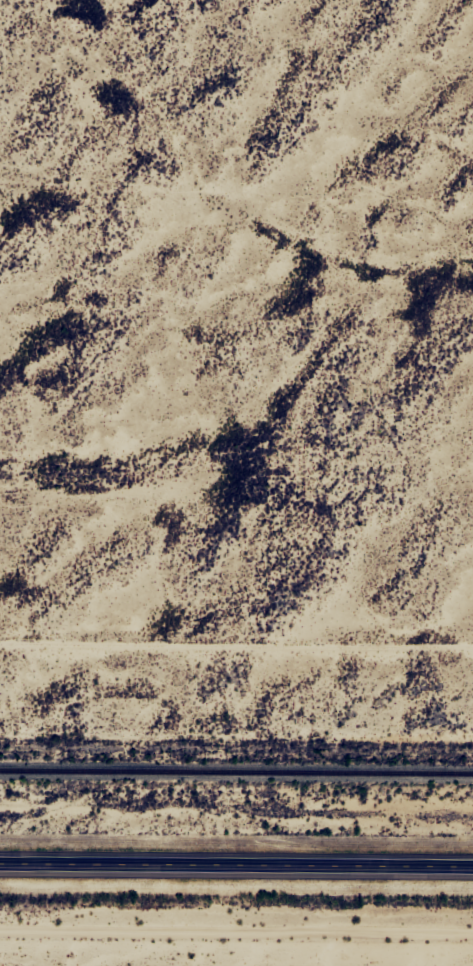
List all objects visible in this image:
railway: (236, 772)
road: (236, 862)

